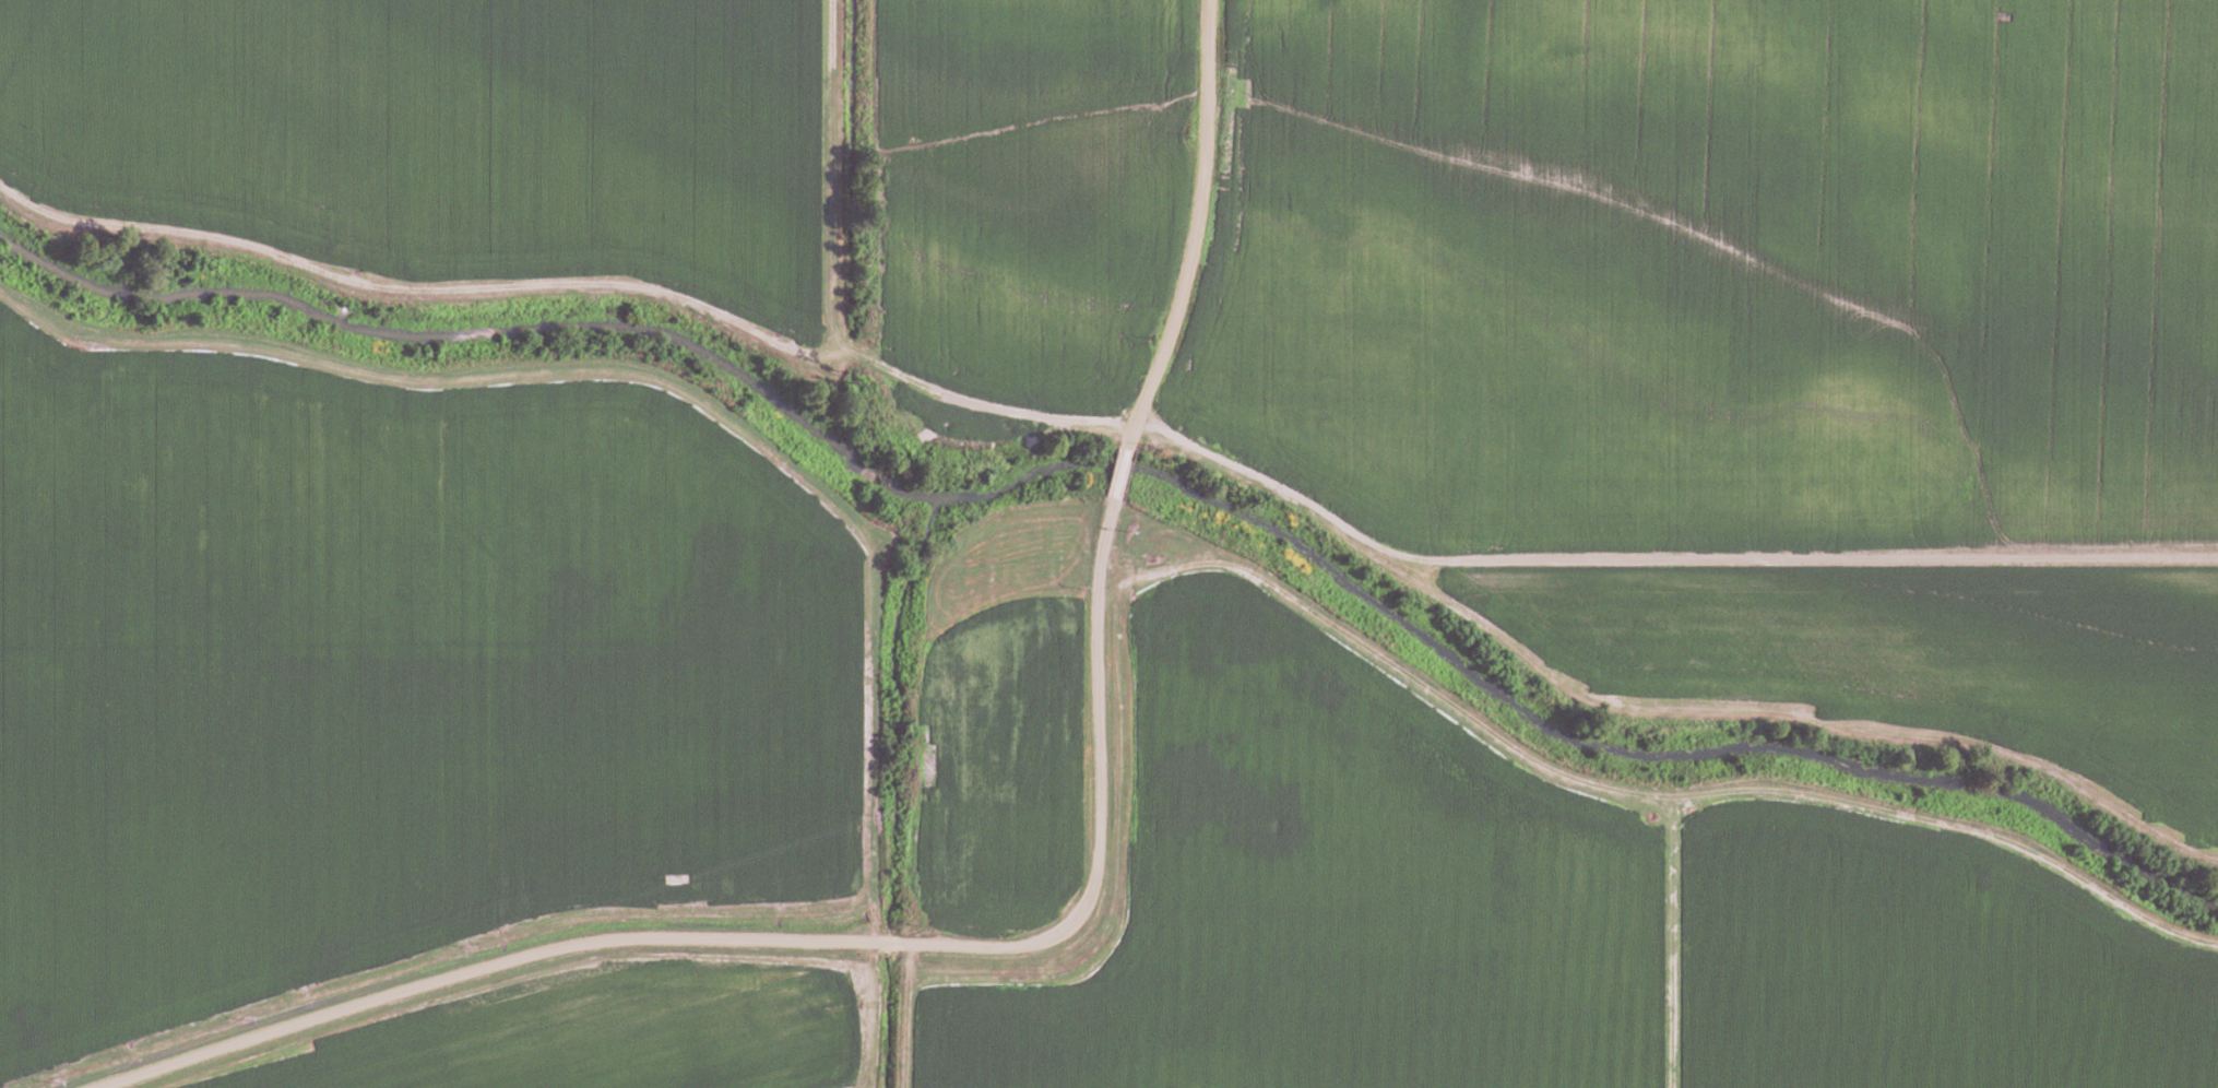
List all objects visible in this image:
road: (1052, 939)

